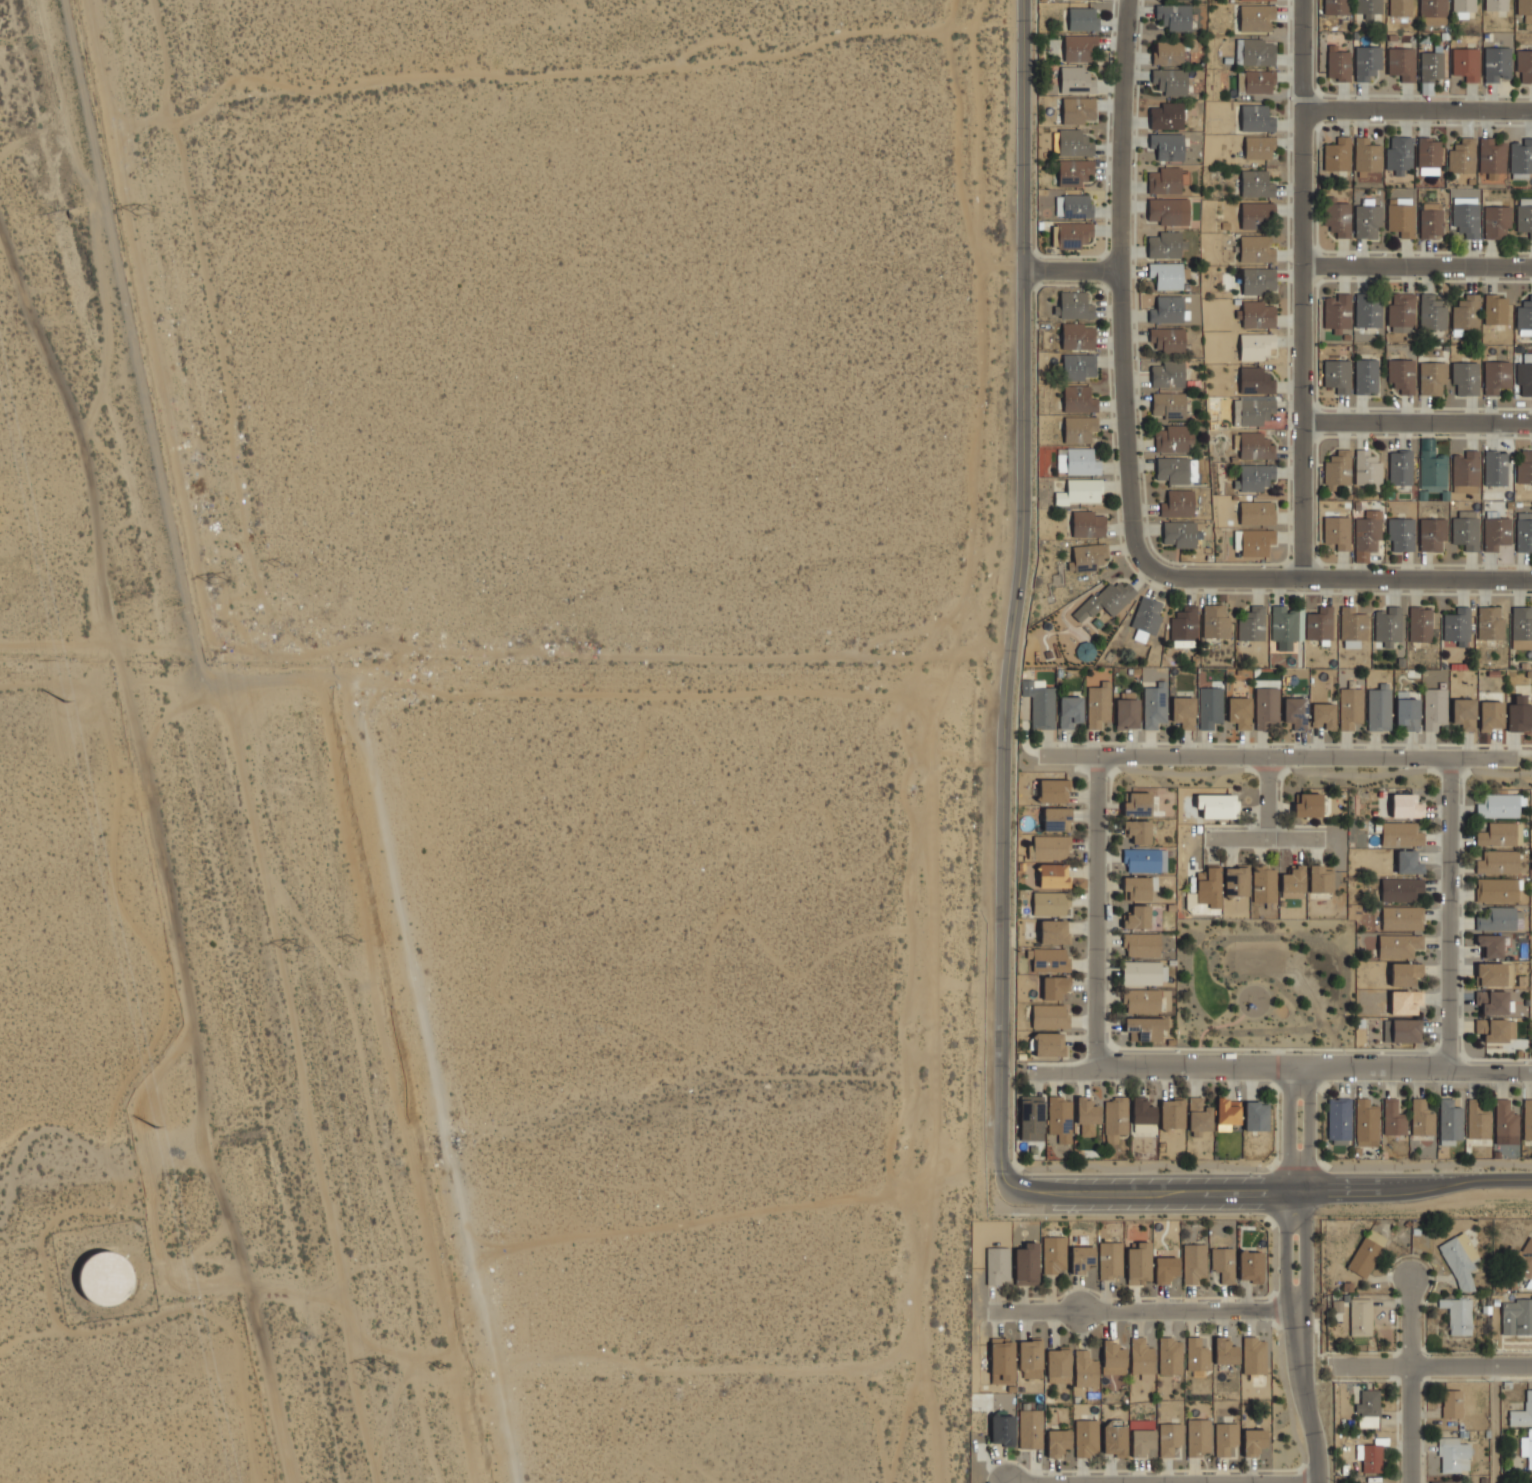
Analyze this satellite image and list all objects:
building: (1250, 0)
building: (1495, 5)
building: (1336, 7)
building: (1367, 8)
building: (1400, 8)
building: (1462, 8)
building: (1525, 9)
building: (1430, 10)
building: (1173, 16)
building: (1256, 17)
building: (1082, 19)
building: (1079, 48)
building: (1254, 52)
building: (1168, 53)
building: (1366, 62)
building: (1401, 63)
building: (1466, 63)
building: (1497, 63)
building: (1337, 64)
building: (1524, 65)
building: (1431, 66)
building: (1076, 80)
building: (1170, 81)
building: (1255, 81)
road: (1418, 107)
building: (1078, 109)
building: (1166, 116)
building: (1256, 118)
building: (1071, 142)
building: (1167, 146)
building: (1259, 147)
building: (1429, 152)
building: (1399, 154)
building: (1337, 155)
building: (1367, 155)
building: (1462, 156)
building: (1491, 156)
building: (1521, 156)
building: (1074, 172)
building: (1164, 181)
building: (1256, 184)
power tower: (206, 203)
building: (1073, 206)
building: (1168, 211)
building: (1256, 214)
building: (1524, 215)
building: (1337, 216)
building: (1401, 216)
building: (1466, 216)
power tower: (148, 217)
building: (1367, 218)
building: (1430, 220)
building: (1496, 221)
building: (1071, 234)
building: (1164, 245)
building: (1256, 249)
road: (1417, 266)
road: (1071, 270)
building: (1166, 275)
building: (1258, 280)
road: (1302, 288)
road: (1122, 292)
building: (1073, 305)
building: (1167, 309)
building: (1495, 309)
building: (1368, 311)
building: (1402, 312)
building: (1432, 312)
building: (1466, 312)
building: (1257, 314)
building: (1525, 316)
building: (1077, 336)
building: (1168, 339)
building: (1255, 346)
building: (1078, 366)
building: (1167, 374)
building: (1337, 375)
building: (1366, 375)
building: (1524, 375)
building: (1401, 376)
building: (1496, 376)
building: (1431, 378)
building: (1465, 378)
building: (1255, 381)
building: (1079, 398)
building: (1168, 405)
building: (1256, 411)
road: (1419, 418)
building: (1079, 427)
building: (1174, 438)
building: (1255, 446)
building: (1077, 461)
building: (1524, 466)
building: (1400, 467)
building: (1338, 468)
building: (1367, 468)
building: (1495, 468)
building: (1173, 469)
building: (1432, 471)
building: (1465, 472)
building: (1254, 477)
building: (1080, 491)
building: (1177, 502)
building: (1256, 512)
building: (1088, 524)
building: (1465, 529)
building: (1337, 532)
building: (1524, 532)
building: (1496, 533)
building: (1179, 534)
building: (1366, 534)
building: (1401, 534)
building: (1431, 534)
building: (1087, 557)
power tower: (278, 565)
road: (1346, 577)
power tower: (222, 584)
road: (1017, 600)
building: (1106, 600)
building: (1146, 618)
building: (1215, 621)
building: (1319, 623)
building: (1490, 623)
building: (1184, 624)
building: (1251, 624)
building: (1420, 624)
building: (1388, 625)
building: (1286, 626)
building: (1457, 626)
building: (1352, 627)
building: (1521, 627)
building: (1085, 652)
power tower: (65, 701)
building: (1039, 703)
building: (1098, 705)
building: (1154, 705)
building: (1210, 707)
building: (1266, 707)
building: (1350, 708)
building: (1379, 708)
building: (1126, 709)
building: (1434, 709)
building: (1070, 711)
building: (1182, 712)
building: (1239, 712)
building: (1295, 712)
building: (1463, 713)
building: (1518, 714)
building: (1323, 715)
building: (1490, 715)
road: (1277, 756)
road: (1276, 770)
building: (1053, 791)
road: (1267, 796)
building: (1137, 804)
building: (1217, 805)
building: (1308, 805)
building: (1406, 806)
building: (1498, 806)
building: (1056, 818)
building: (1138, 831)
building: (1400, 834)
building: (1497, 834)
road: (1265, 837)
building: (1049, 847)
building: (1142, 860)
building: (1499, 861)
building: (1408, 863)
building: (1053, 875)
building: (1320, 878)
building: (1236, 881)
building: (1293, 882)
building: (1263, 884)
building: (1208, 887)
building: (1136, 888)
building: (1400, 889)
building: (1497, 889)
building: (1050, 903)
road: (1098, 911)
road: (1450, 914)
building: (1137, 916)
building: (1402, 918)
building: (1497, 919)
building: (1053, 931)
power tower: (355, 942)
building: (1141, 945)
building: (1399, 945)
building: (1490, 945)
power tower: (295, 951)
building: (1049, 959)
building: (1144, 972)
building: (1405, 973)
building: (1491, 974)
building: (1508, 974)
park: (1265, 981)
building: (1055, 987)
building: (1141, 1000)
building: (1404, 1001)
building: (1492, 1002)
building: (1048, 1015)
road: (1217, 1024)
building: (1145, 1027)
building: (1495, 1029)
building: (1405, 1030)
building: (1048, 1044)
road: (1281, 1066)
building: (1143, 1111)
building: (1173, 1111)
building: (1227, 1113)
building: (1087, 1115)
building: (1199, 1115)
building: (1255, 1115)
building: (1031, 1117)
building: (1060, 1118)
building: (1393, 1118)
building: (1421, 1118)
building: (1115, 1119)
building: (1478, 1119)
building: (1528, 1119)
building: (1366, 1120)
building: (1449, 1120)
building: (1338, 1121)
building: (1506, 1122)
power tower: (156, 1128)
road: (1269, 1166)
road: (1288, 1183)
road: (1308, 1183)
road: (1152, 1190)
road: (1404, 1190)
building: (1375, 1237)
building: (1053, 1254)
building: (1363, 1257)
building: (1111, 1258)
building: (1081, 1259)
building: (1526, 1259)
building: (1459, 1260)
building: (1138, 1263)
building: (1193, 1263)
building: (1223, 1263)
building: (997, 1265)
building: (1026, 1265)
building: (1250, 1266)
building: (1165, 1269)
building: (104, 1278)
storage tank: (104, 1278)
road: (1146, 1307)
building: (1458, 1315)
building: (1516, 1316)
building: (1360, 1320)
road: (1411, 1321)
building: (1225, 1351)
building: (1030, 1354)
building: (1196, 1354)
building: (1253, 1355)
building: (1170, 1356)
building: (1113, 1359)
building: (1142, 1359)
building: (1002, 1361)
road: (758, 1363)
building: (1058, 1365)
road: (1432, 1365)
power tower: (441, 1366)
power tower: (380, 1368)
building: (1085, 1369)
road: (1304, 1389)
building: (1451, 1402)
building: (1368, 1408)
building: (1522, 1412)
road: (1412, 1424)
road: (1496, 1424)
building: (1031, 1428)
building: (1002, 1429)
building: (1169, 1436)
building: (1085, 1437)
building: (1198, 1437)
building: (1224, 1438)
building: (1253, 1439)
building: (1057, 1440)
building: (1114, 1440)
building: (1142, 1440)
building: (1527, 1448)
building: (1453, 1455)
building: (1370, 1457)
building: (1445, 1481)
building: (1529, 1481)
road: (1165, 1482)

